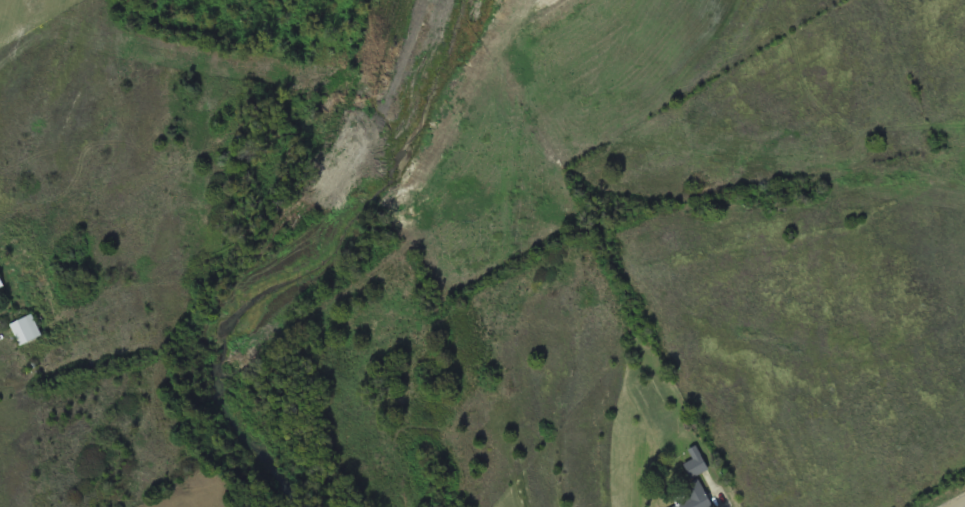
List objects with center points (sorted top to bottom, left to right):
building: (1, 283)
building: (695, 462)
building: (692, 498)
road: (960, 504)

